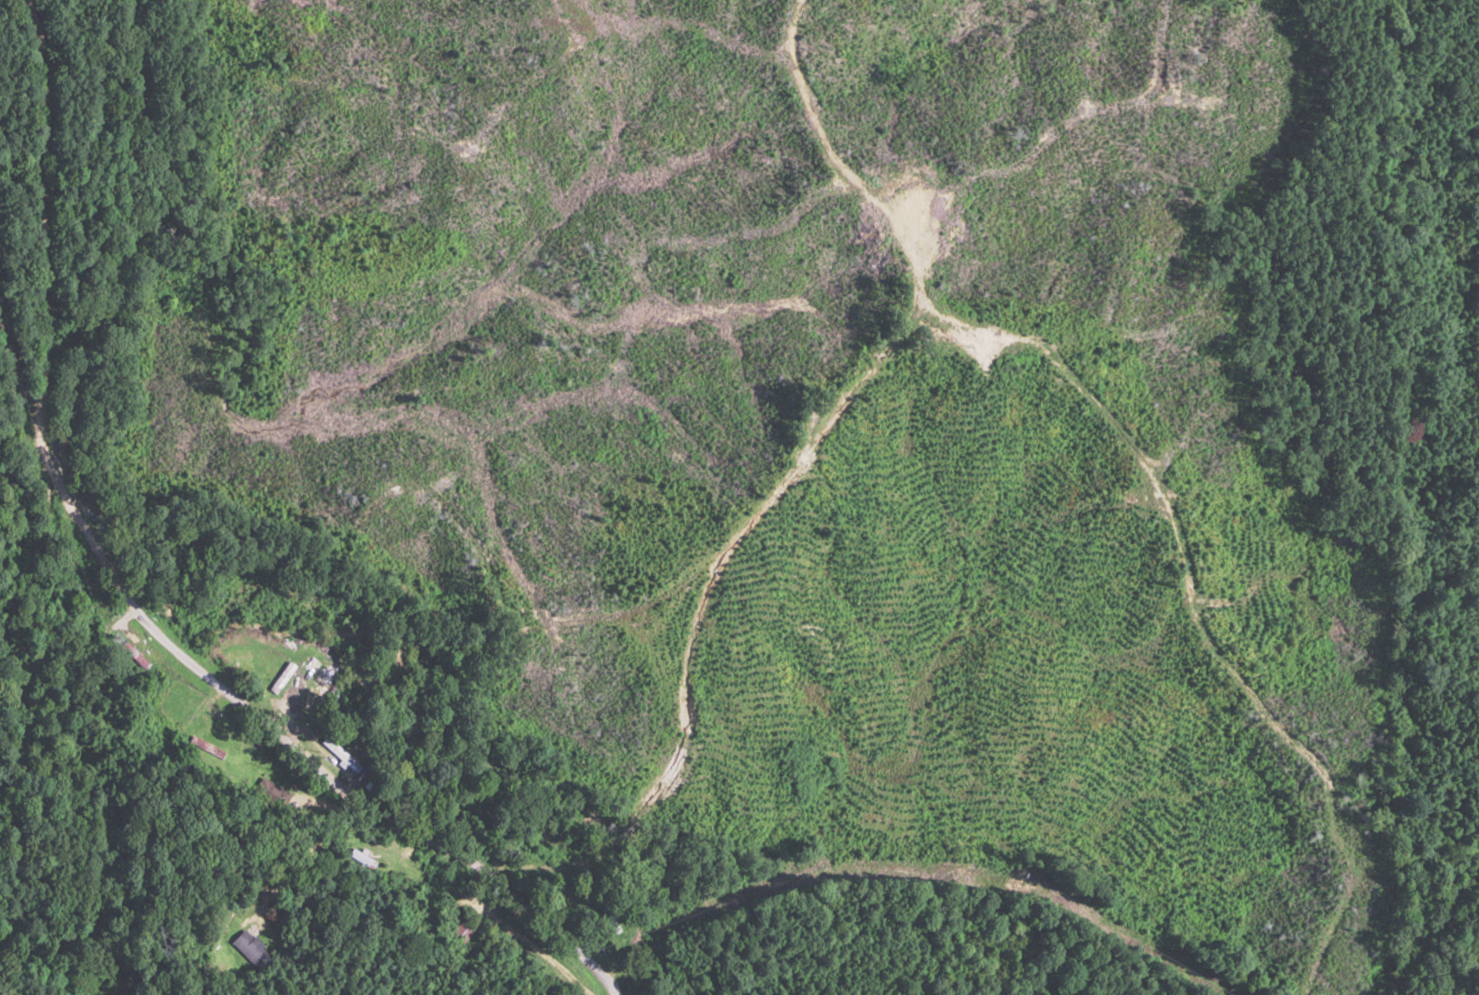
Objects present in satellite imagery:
building: (65, 571)
road: (127, 572)
building: (88, 625)
building: (282, 677)
building: (158, 704)
building: (207, 747)
building: (339, 754)
building: (363, 857)
building: (462, 931)
building: (253, 949)

